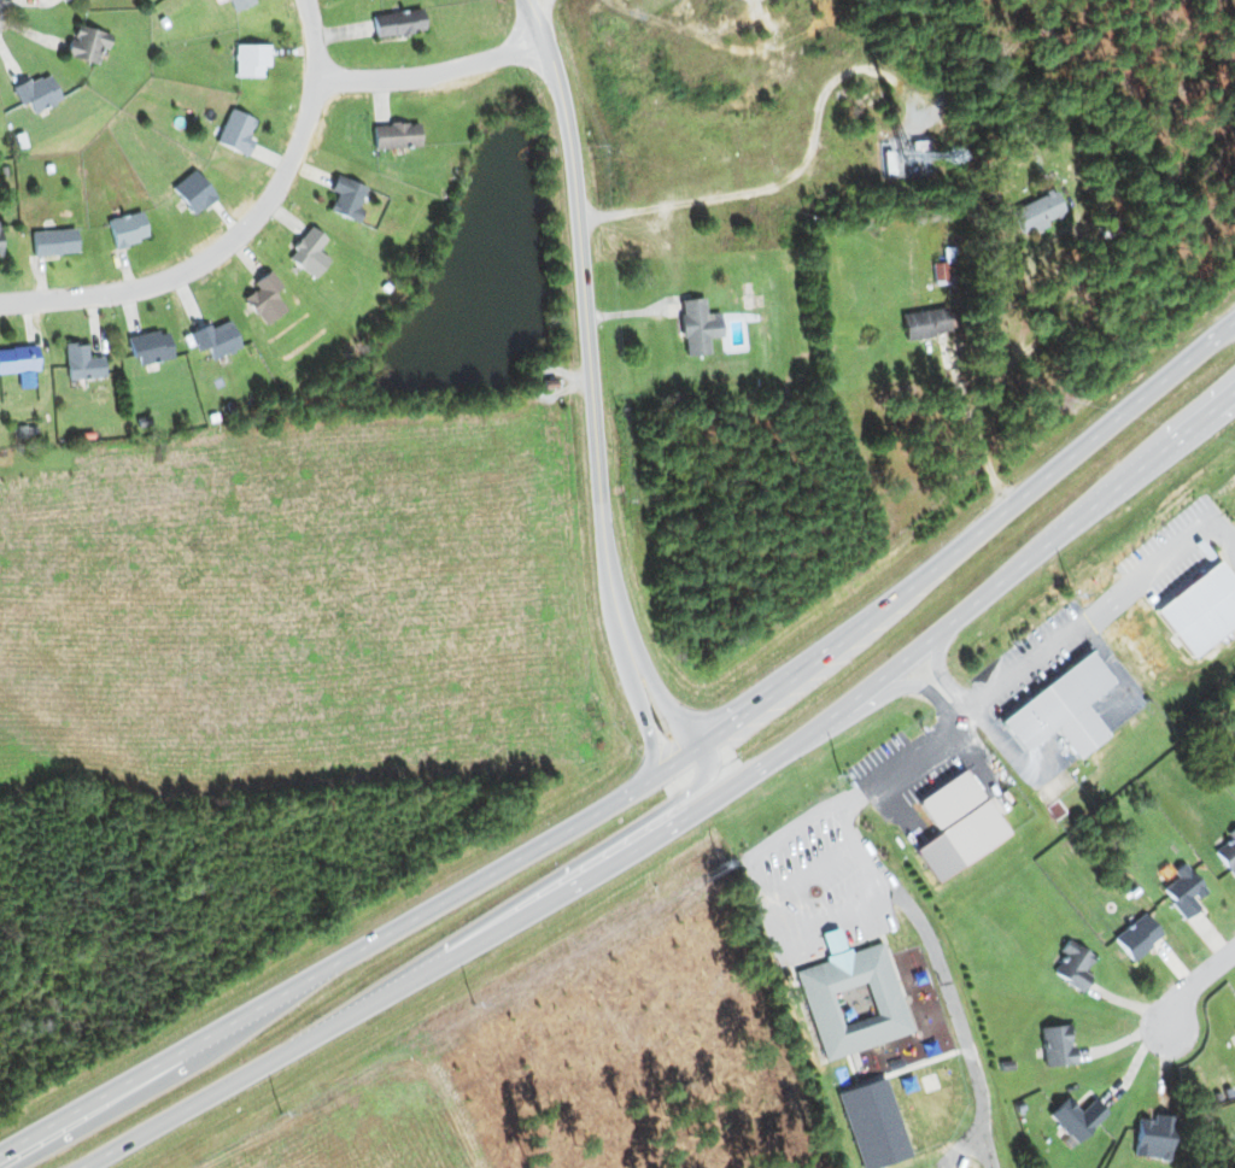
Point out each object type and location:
building: (62, 0)
building: (240, 4)
building: (398, 22)
building: (87, 43)
building: (251, 59)
road: (432, 74)
building: (36, 93)
building: (236, 131)
building: (396, 135)
building: (193, 192)
building: (346, 198)
building: (1037, 212)
building: (127, 228)
building: (1108, 229)
road: (239, 233)
building: (54, 241)
building: (0, 246)
building: (309, 252)
building: (264, 298)
building: (925, 322)
road: (589, 323)
building: (697, 325)
building: (215, 339)
building: (151, 347)
building: (18, 359)
building: (82, 362)
road: (976, 432)
building: (1201, 609)
building: (1060, 709)
road: (685, 720)
road: (660, 733)
road: (645, 782)
road: (674, 822)
building: (956, 824)
building: (1228, 852)
building: (1183, 891)
building: (1137, 937)
building: (1073, 964)
road: (1192, 985)
building: (850, 998)
building: (1057, 1045)
building: (1073, 1117)
building: (872, 1123)
crop: (370, 1127)
building: (1153, 1137)

